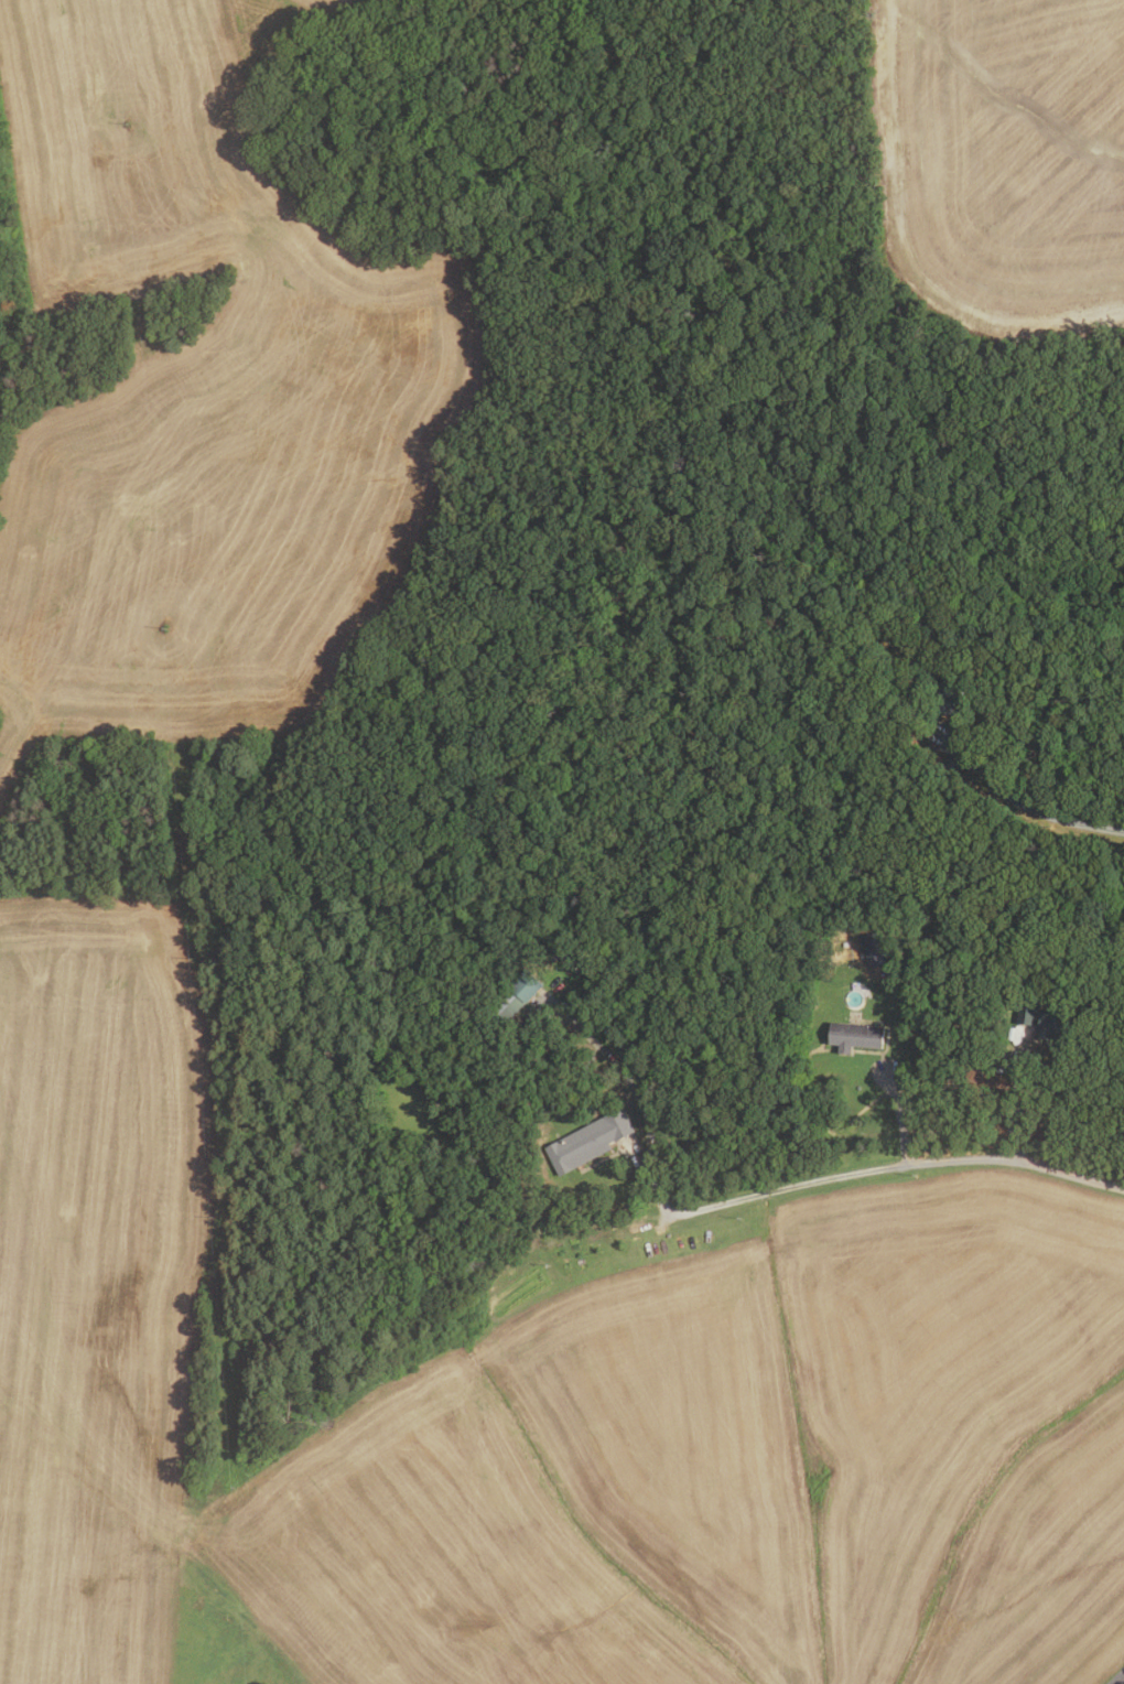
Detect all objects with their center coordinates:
crop: (328, 7)
crop: (213, 410)
building: (949, 699)
building: (932, 756)
road: (1027, 806)
building: (515, 994)
building: (1045, 1023)
building: (852, 1035)
building: (508, 1052)
road: (1015, 1070)
road: (895, 1113)
building: (586, 1140)
road: (776, 1189)
crop: (543, 1410)
road: (1118, 1680)
road: (1123, 1680)

